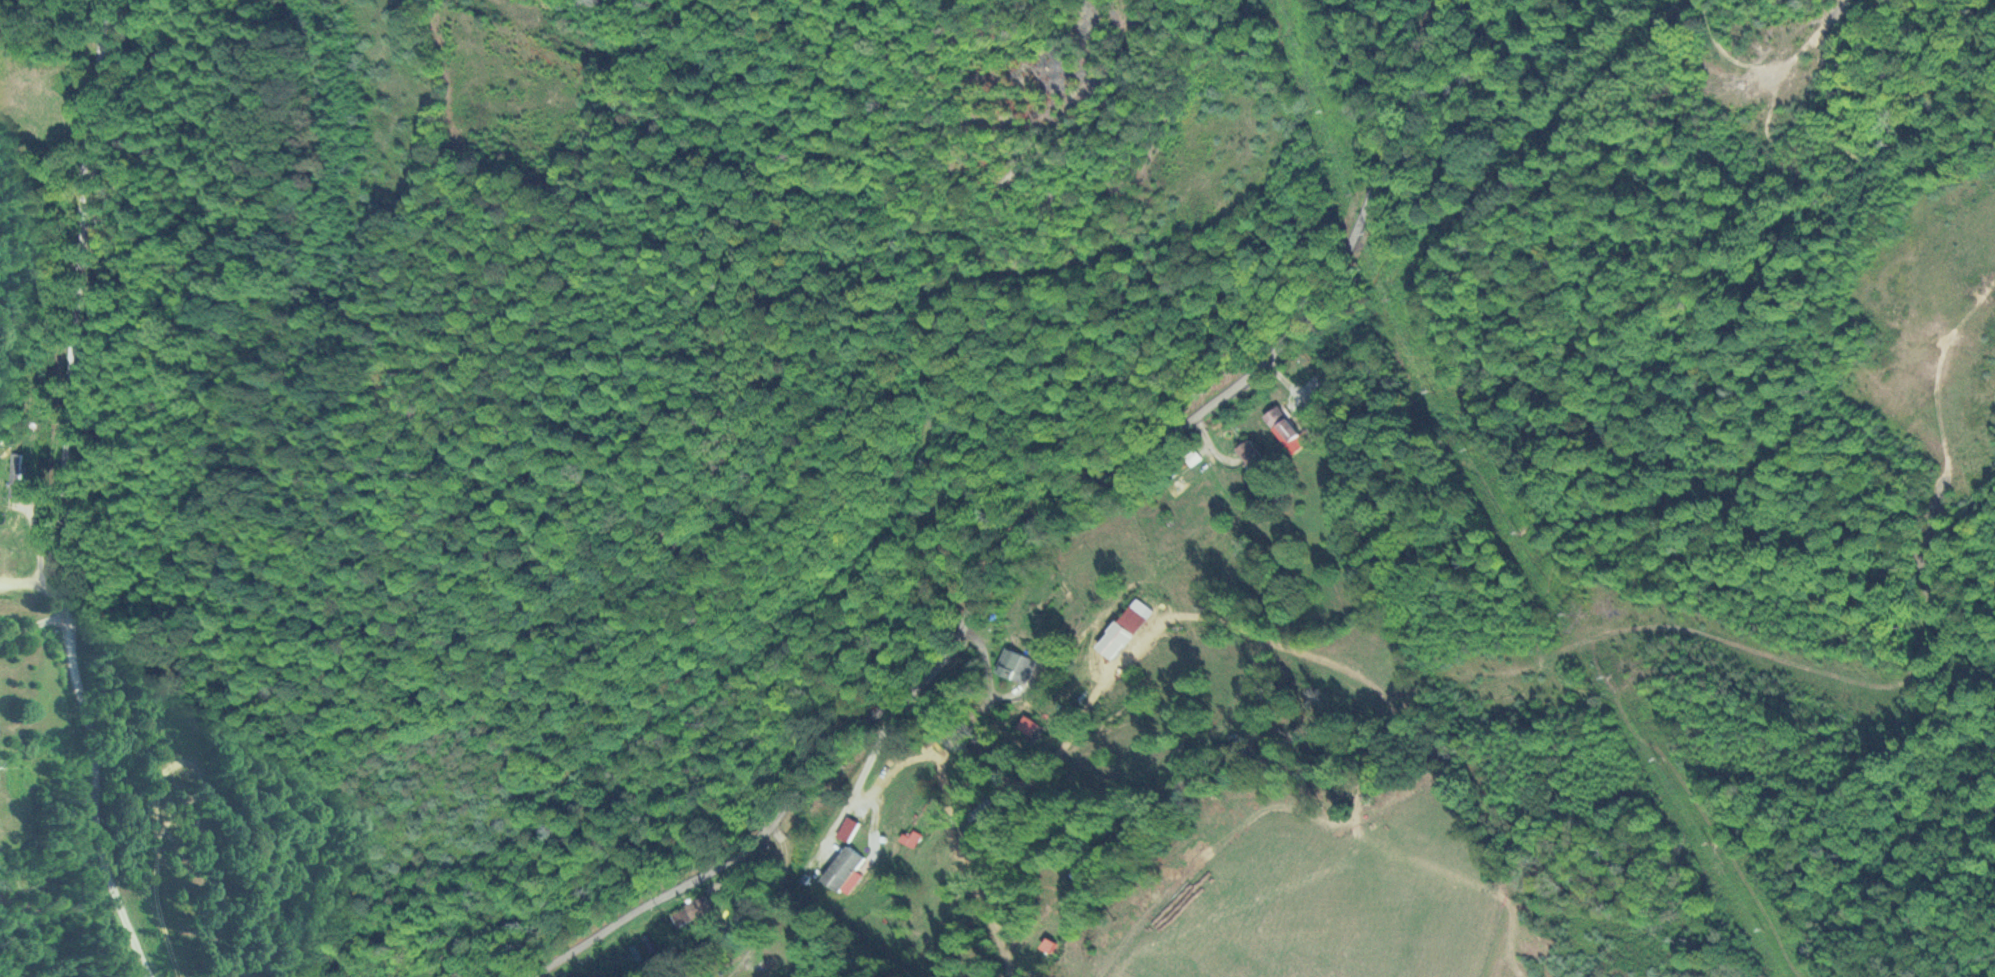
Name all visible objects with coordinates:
building: (1282, 425)
building: (1250, 453)
building: (14, 475)
road: (69, 494)
road: (1059, 534)
building: (4, 563)
building: (1131, 619)
building: (1017, 666)
road: (1016, 727)
building: (848, 829)
building: (843, 868)
road: (746, 903)

